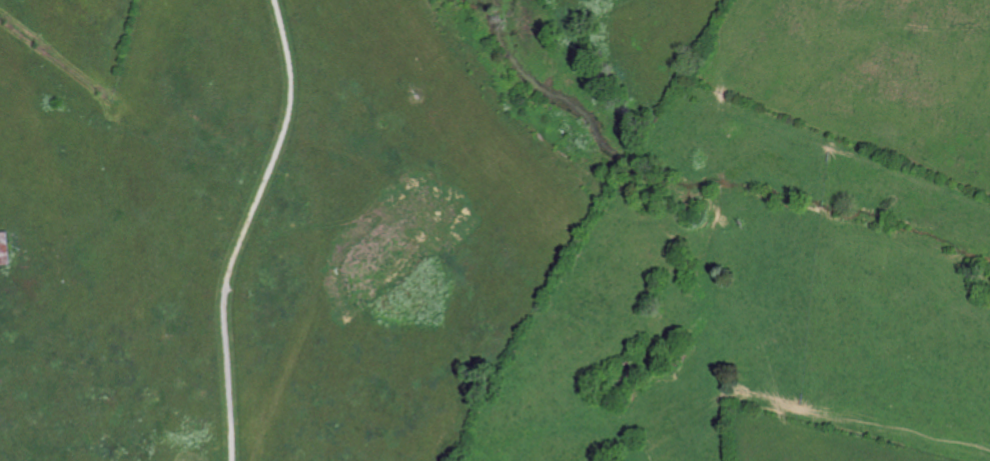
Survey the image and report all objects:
building: (3, 249)

